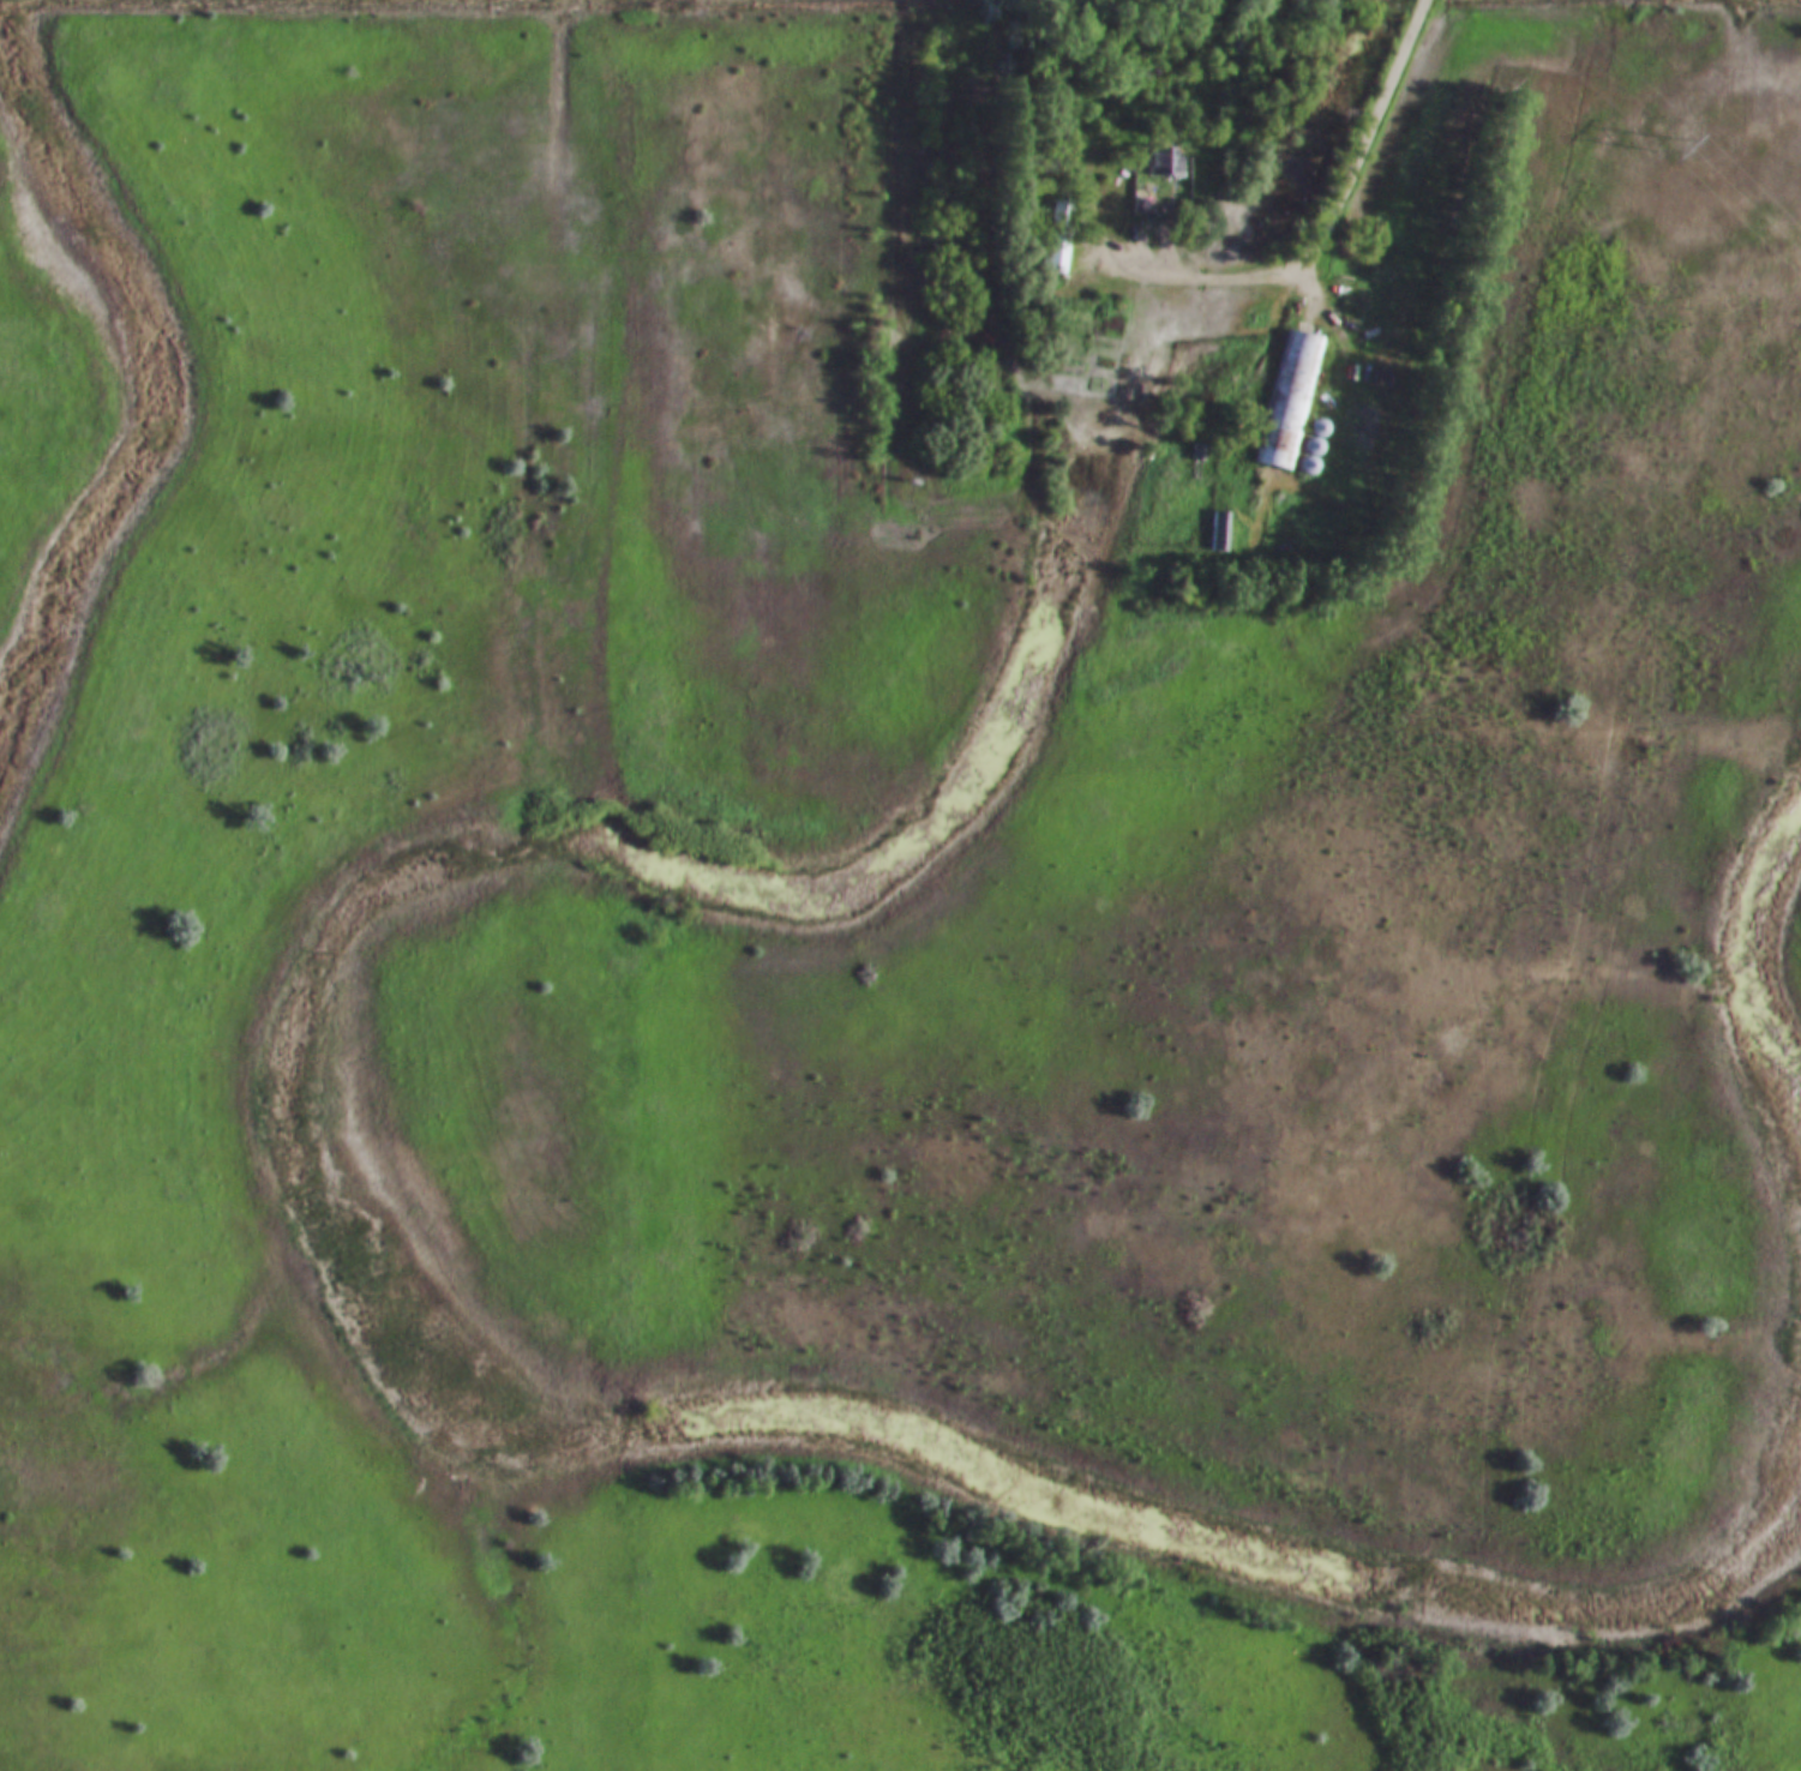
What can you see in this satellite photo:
power tower: (1671, 142)
road: (1329, 222)
building: (1292, 397)
building: (1225, 529)

